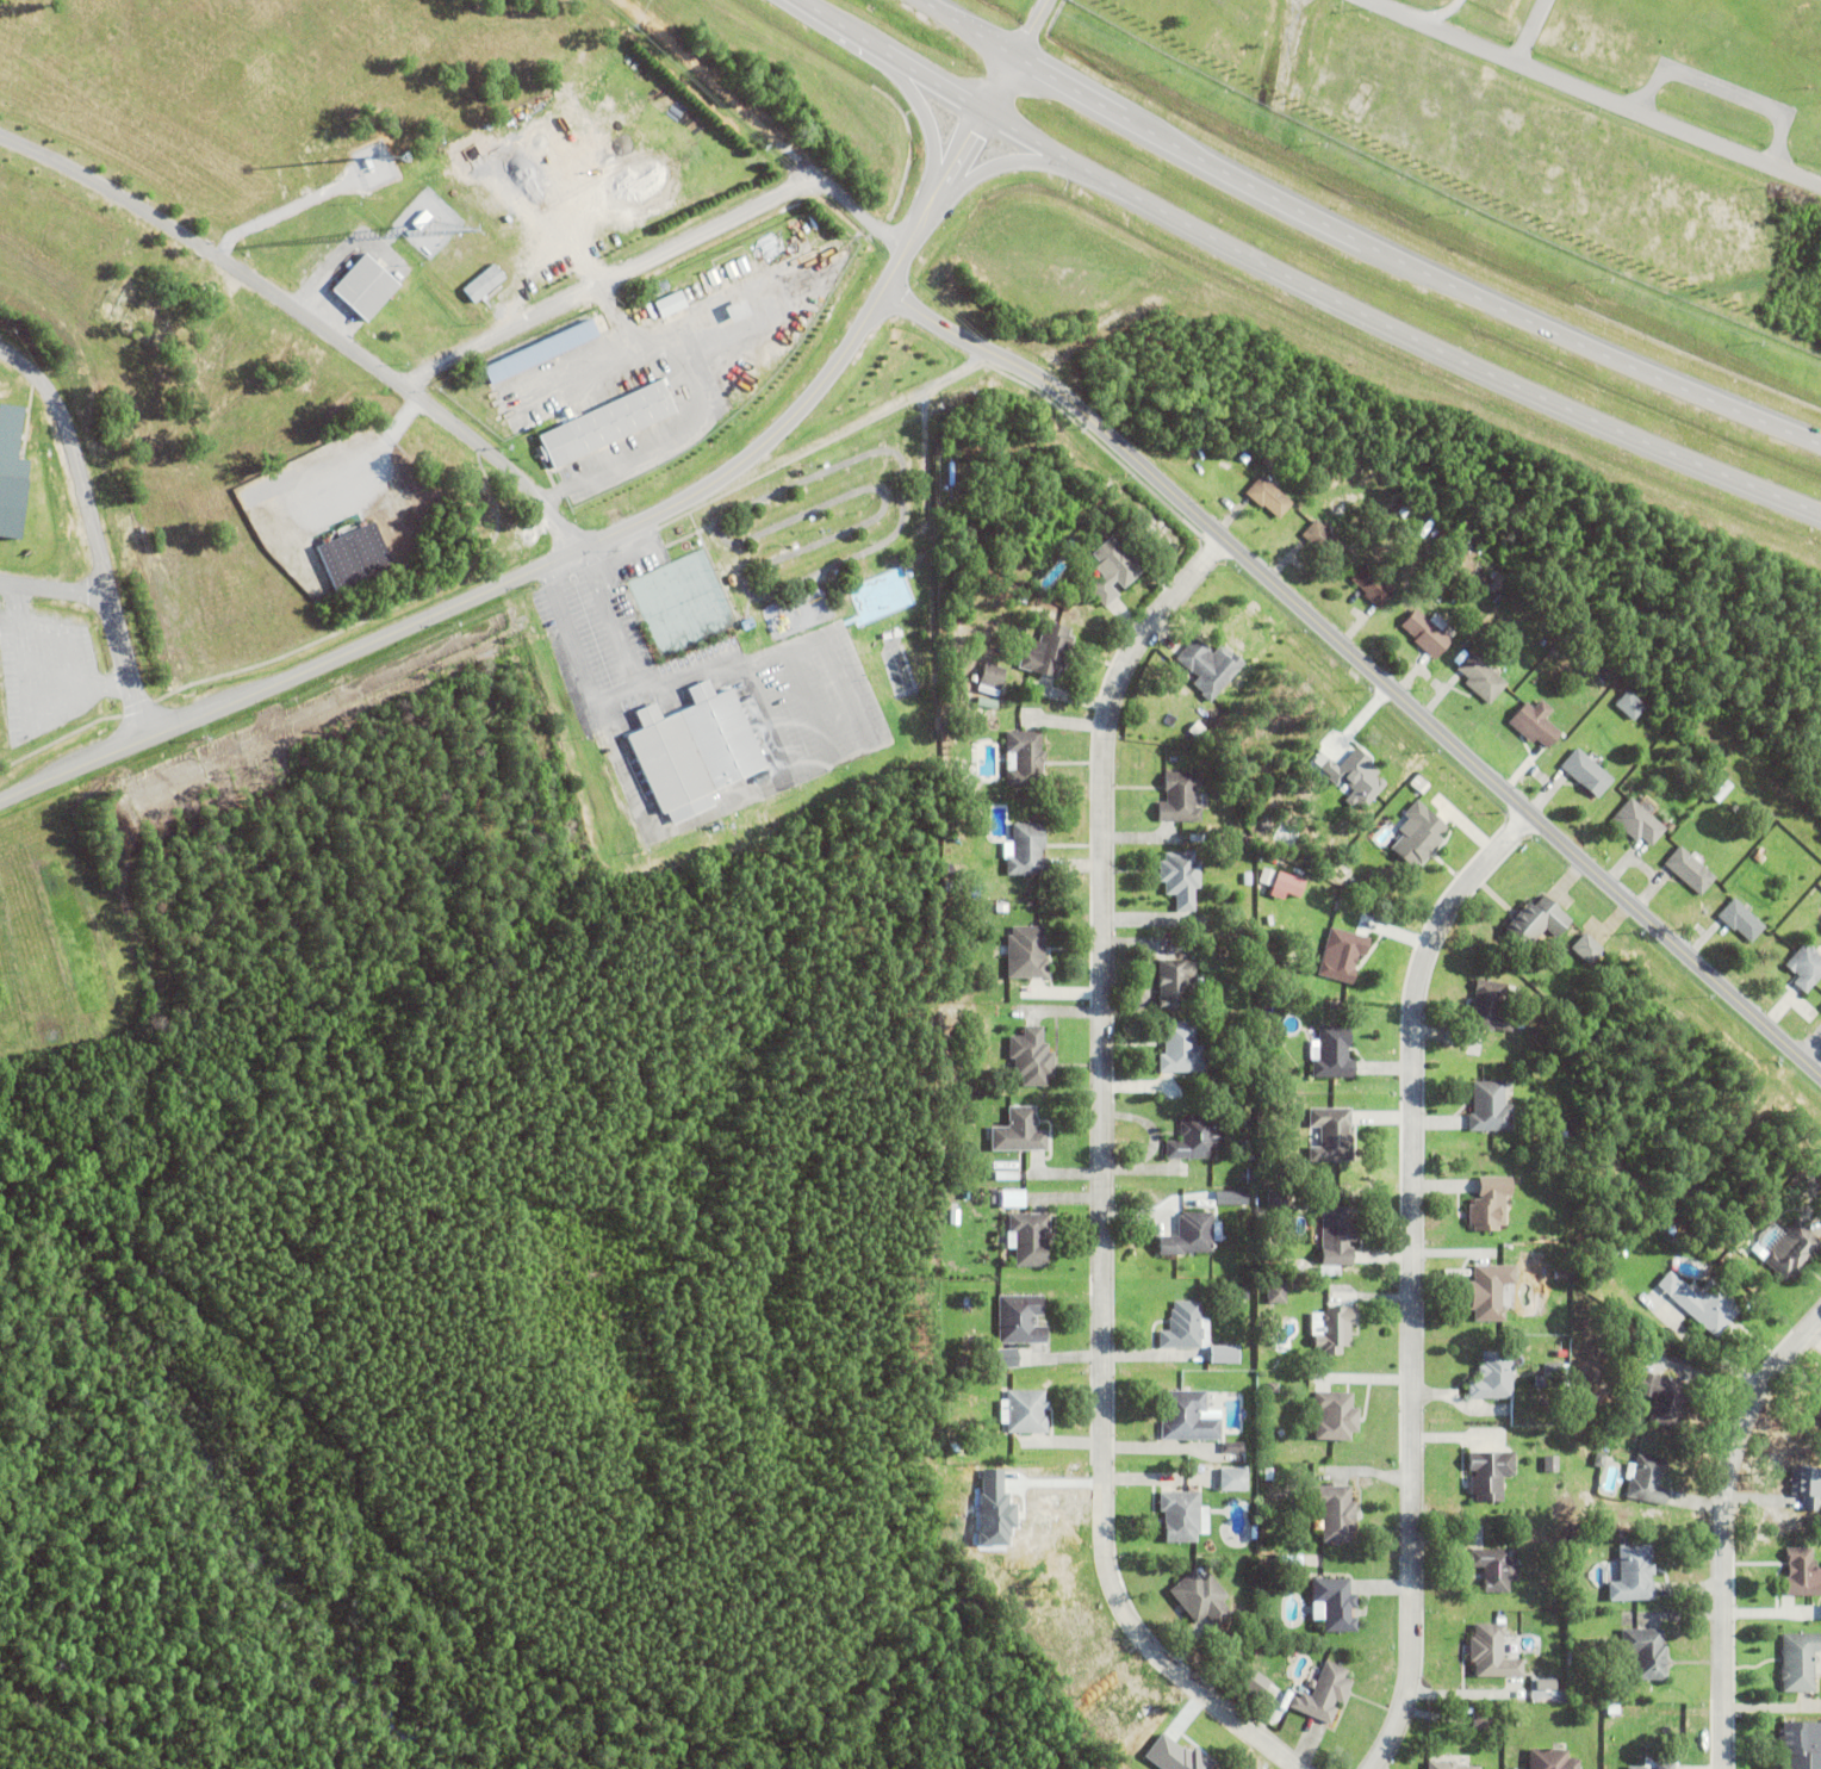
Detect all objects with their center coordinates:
road: (1028, 27)
road: (913, 91)
road: (1591, 93)
road: (1005, 163)
road: (809, 169)
building: (422, 218)
road: (1360, 242)
building: (732, 268)
building: (714, 278)
road: (607, 279)
road: (1297, 281)
building: (484, 284)
building: (365, 285)
building: (673, 304)
building: (738, 310)
road: (304, 317)
road: (613, 318)
road: (731, 340)
building: (539, 348)
road: (683, 383)
building: (605, 420)
building: (1270, 459)
building: (1356, 460)
building: (12, 471)
building: (951, 473)
building: (1268, 496)
road: (89, 533)
road: (597, 536)
building: (1323, 539)
building: (352, 555)
building: (1113, 570)
road: (52, 586)
building: (1373, 586)
building: (1023, 600)
park: (677, 601)
building: (745, 622)
parking lot: (595, 623)
building: (1427, 633)
building: (1049, 651)
road: (1362, 664)
building: (1210, 666)
building: (992, 676)
building: (1606, 676)
building: (1481, 678)
road: (621, 694)
parking lot: (815, 700)
building: (987, 703)
building: (1628, 703)
building: (1535, 724)
building: (691, 747)
building: (1025, 758)
building: (1586, 772)
building: (1180, 797)
building: (1639, 823)
building: (1418, 836)
building: (1244, 840)
building: (1027, 851)
building: (1761, 870)
building: (1690, 871)
building: (1181, 879)
building: (1248, 880)
building: (1289, 886)
building: (949, 887)
building: (1001, 908)
building: (1741, 920)
building: (1536, 923)
building: (1586, 949)
building: (1027, 954)
building: (1343, 956)
building: (1804, 967)
building: (1177, 986)
building: (1490, 1007)
building: (969, 1034)
road: (1811, 1048)
building: (1181, 1049)
building: (1334, 1053)
building: (1032, 1057)
building: (1490, 1109)
building: (1019, 1134)
building: (1332, 1136)
building: (1555, 1137)
building: (1195, 1140)
building: (1562, 1163)
building: (1820, 1172)
building: (1006, 1177)
road: (1095, 1177)
building: (1251, 1177)
building: (1015, 1197)
building: (1232, 1197)
building: (1278, 1199)
building: (993, 1200)
building: (1490, 1205)
building: (1337, 1235)
building: (1192, 1236)
building: (1028, 1240)
building: (1792, 1252)
road: (1399, 1267)
building: (1330, 1273)
building: (1489, 1292)
building: (1276, 1295)
building: (969, 1303)
building: (1702, 1304)
building: (1020, 1321)
building: (1183, 1328)
building: (1335, 1332)
building: (1228, 1353)
building: (1496, 1376)
building: (1550, 1378)
building: (1820, 1388)
building: (1274, 1389)
building: (1664, 1399)
building: (1024, 1414)
building: (1819, 1415)
building: (1336, 1417)
building: (1187, 1419)
building: (953, 1448)
building: (1233, 1450)
building: (1599, 1461)
building: (1550, 1465)
building: (1267, 1476)
building: (1490, 1476)
building: (1235, 1478)
building: (1647, 1482)
building: (1806, 1486)
building: (1335, 1513)
building: (1183, 1519)
road: (1716, 1520)
building: (1262, 1560)
building: (1293, 1566)
building: (1494, 1570)
building: (1800, 1576)
building: (1633, 1577)
building: (1202, 1600)
building: (1334, 1607)
building: (1478, 1621)
building: (1492, 1655)
building: (1646, 1655)
building: (1270, 1659)
building: (1798, 1663)
building: (1560, 1670)
building: (1547, 1683)
building: (1324, 1696)
building: (1612, 1712)
building: (1481, 1723)
building: (1801, 1745)
building: (1550, 1761)
building: (1666, 1765)
building: (1444, 1767)
building: (1639, 1767)
building: (1462, 1768)

